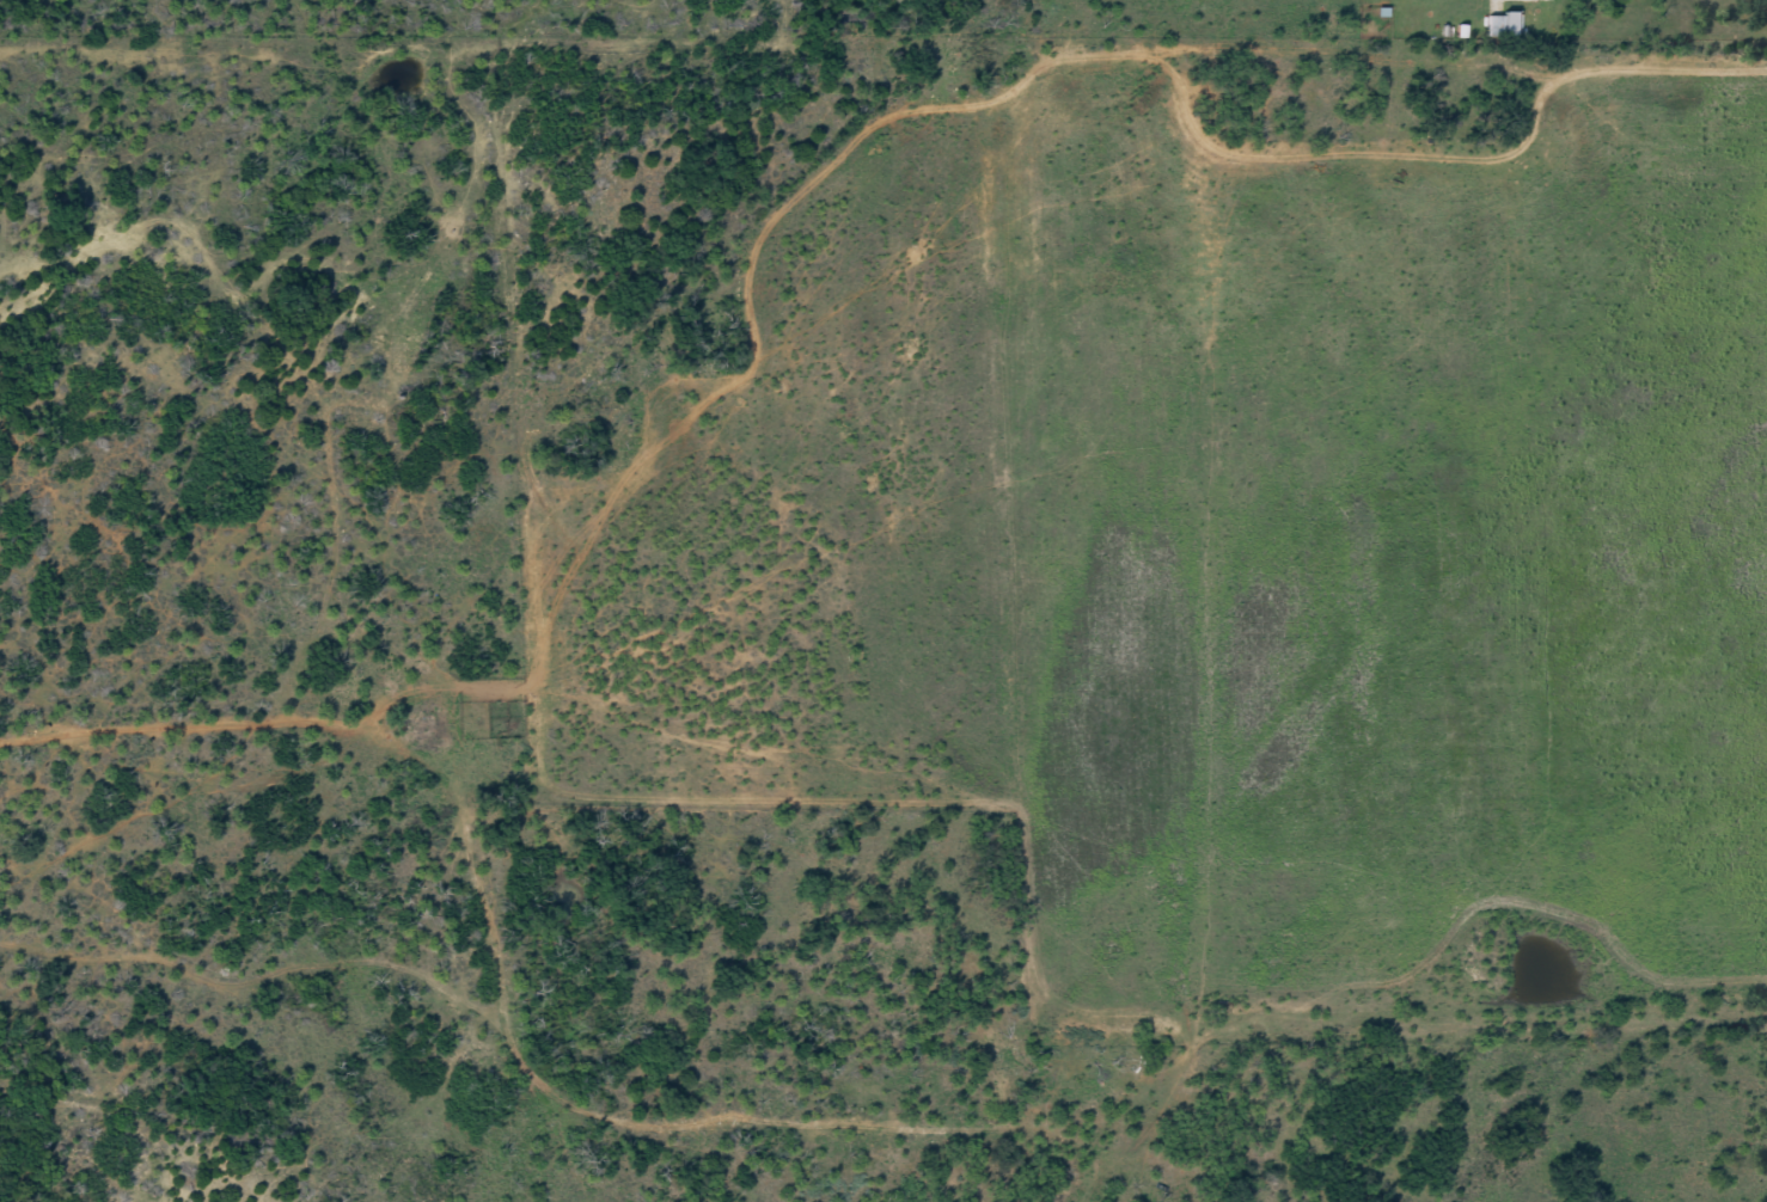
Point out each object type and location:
building: (1499, 29)
road: (788, 1140)

